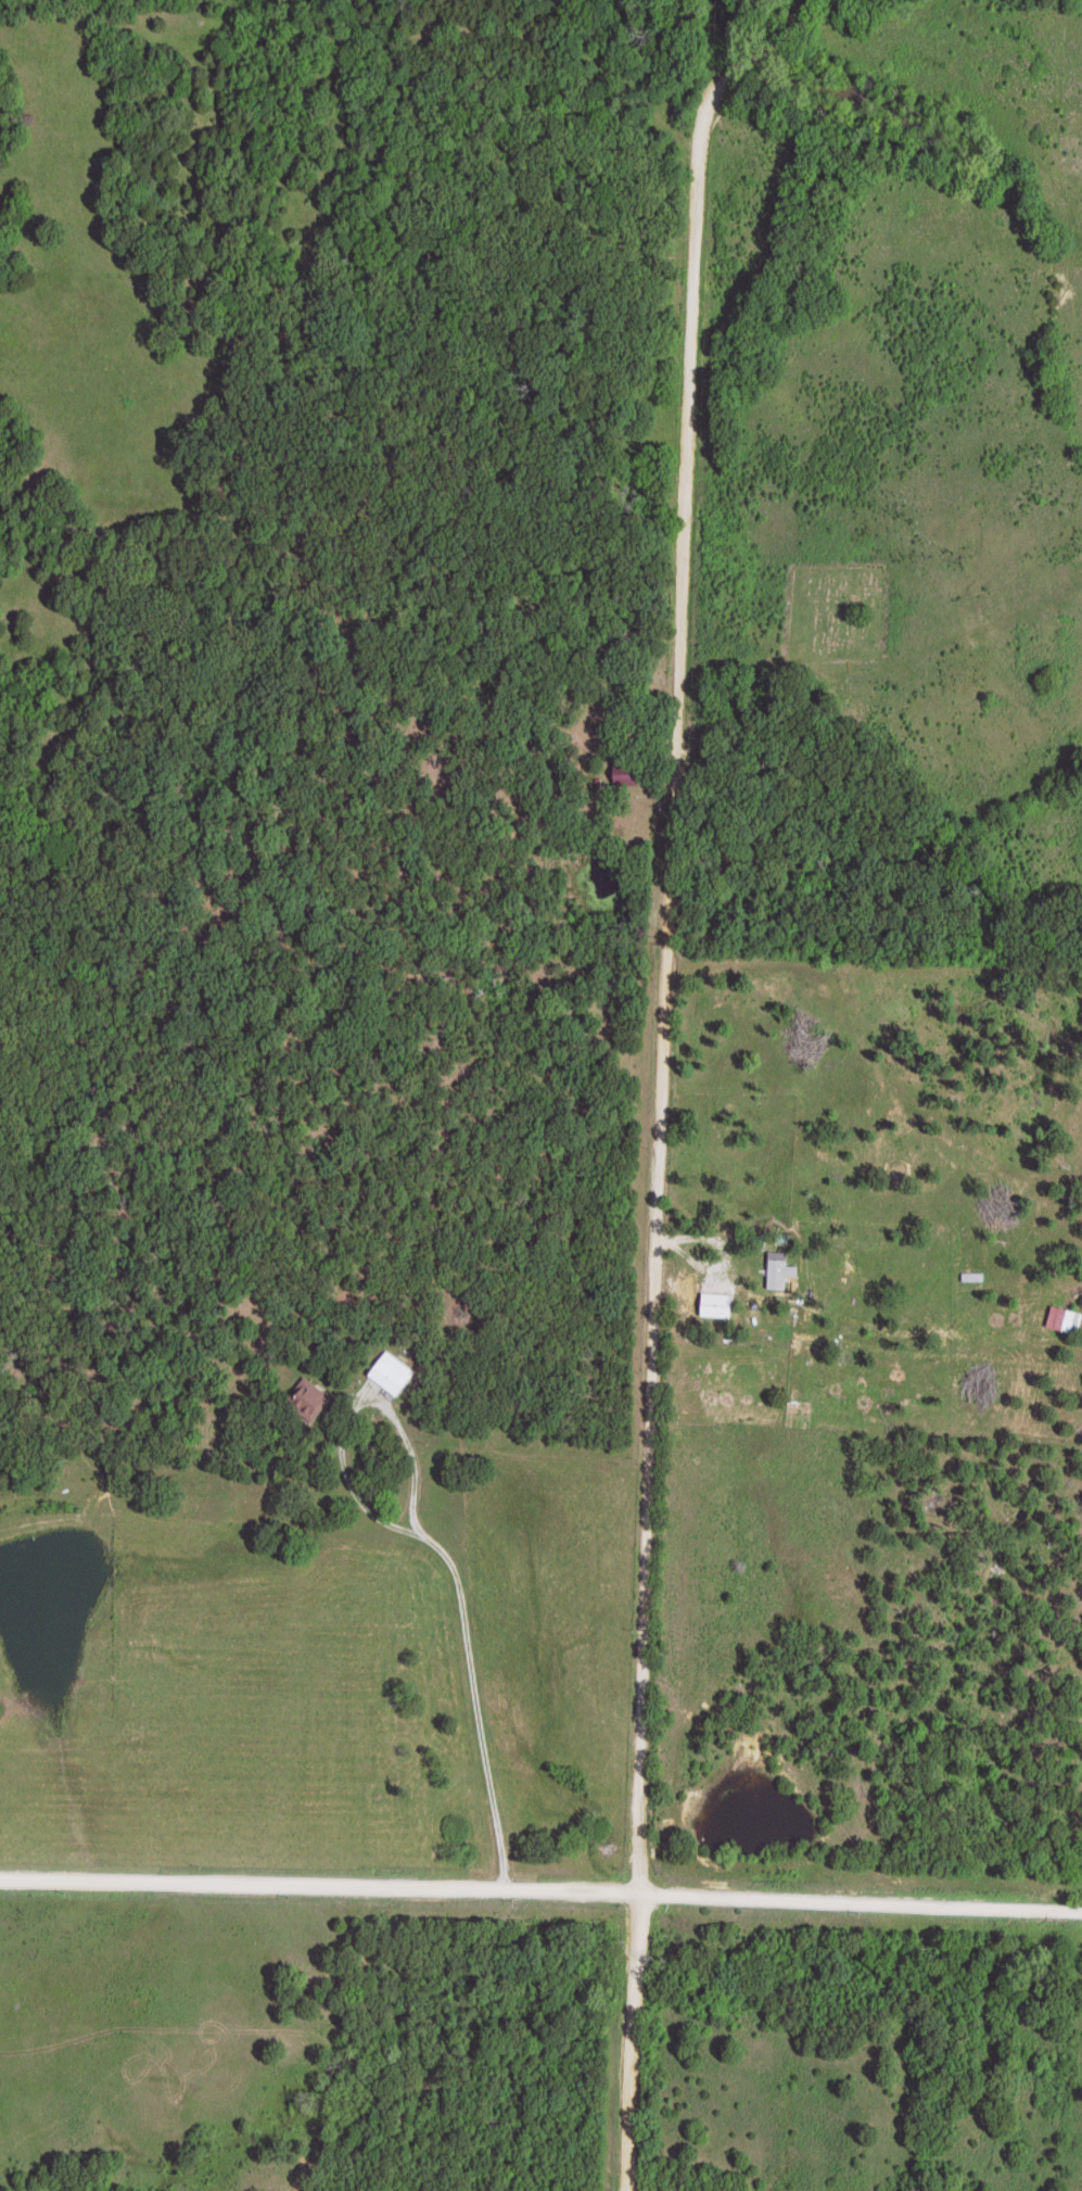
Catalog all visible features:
park: (838, 618)
building: (625, 774)
road: (666, 1092)
building: (777, 1269)
building: (1064, 1319)
building: (392, 1372)
building: (307, 1398)
road: (540, 1890)

